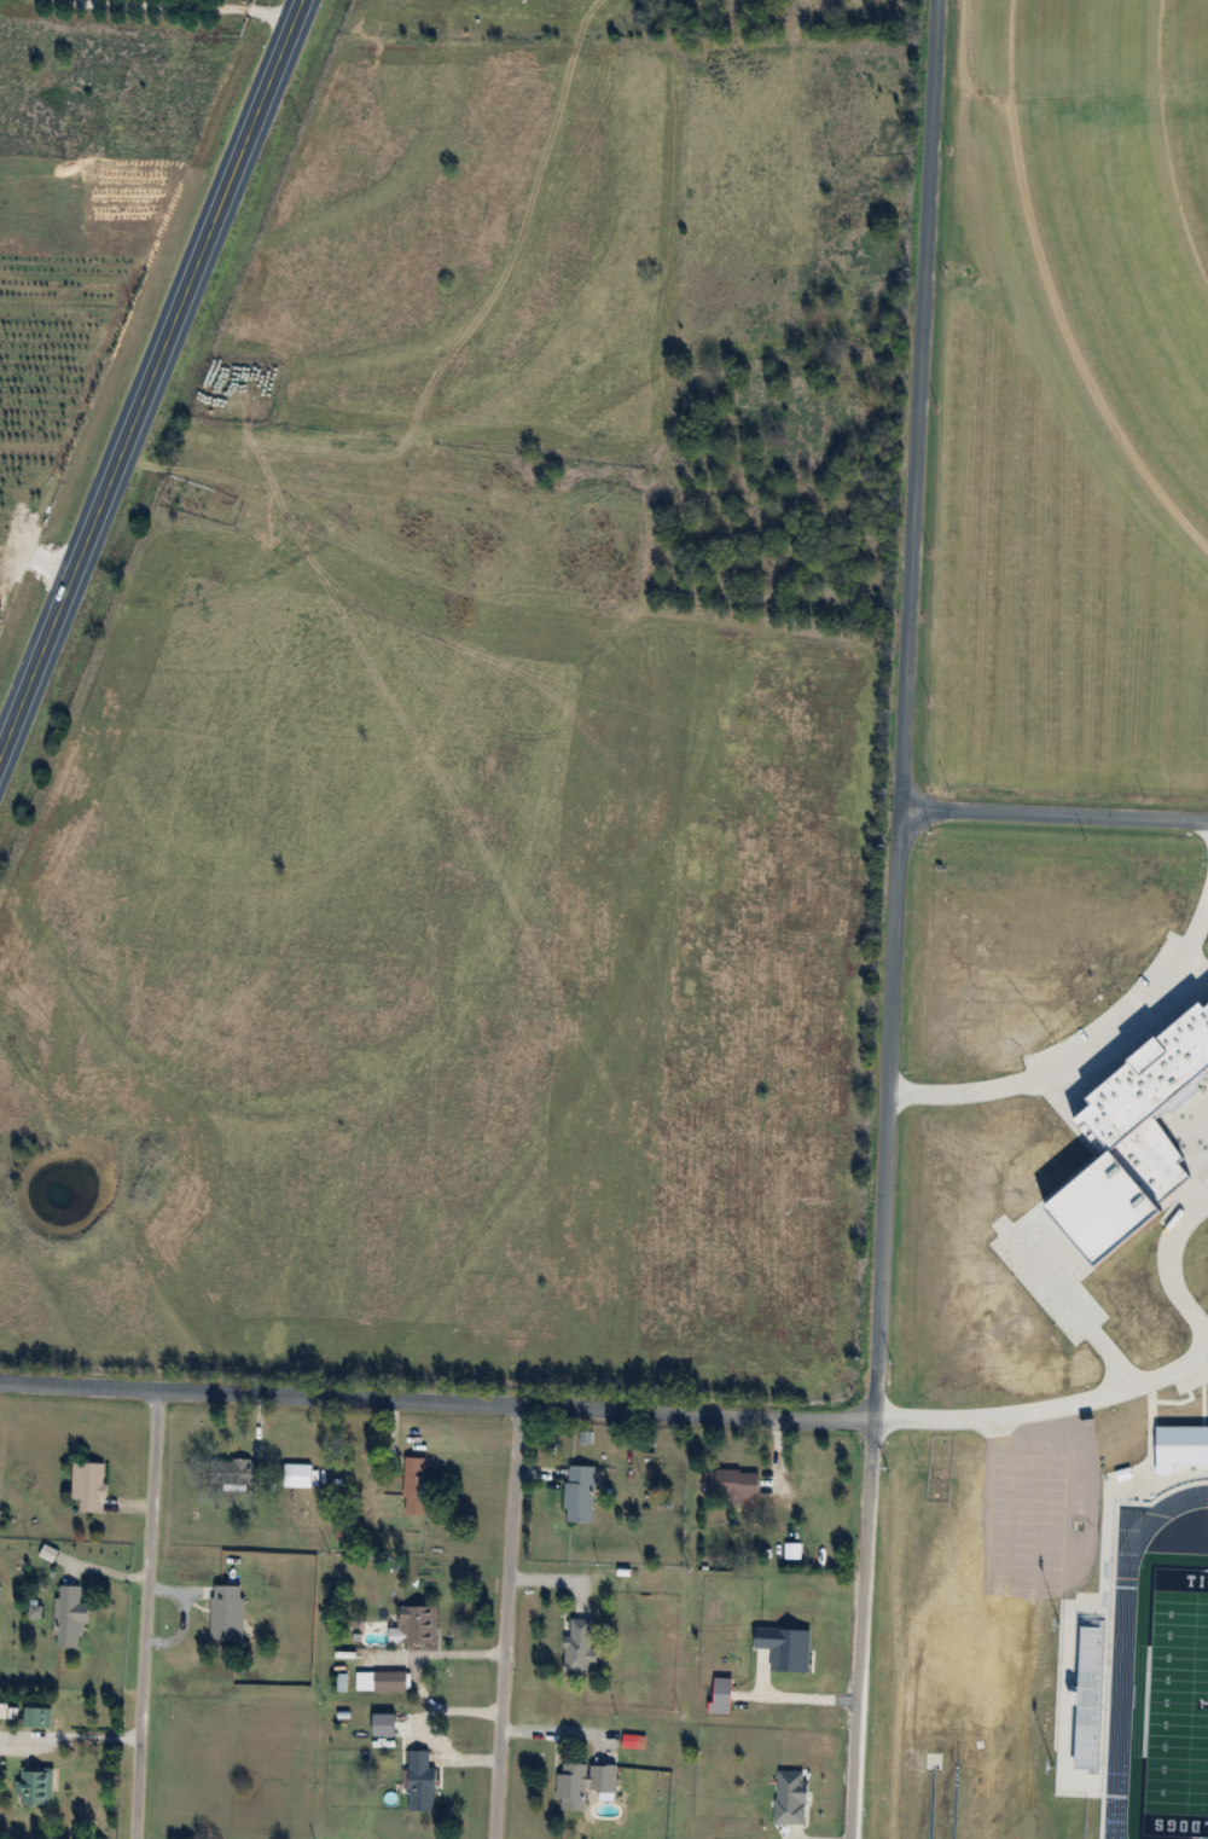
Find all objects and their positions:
road: (240, 2)
road: (155, 381)
road: (904, 706)
road: (1053, 816)
road: (1085, 1060)
road: (1172, 1260)
road: (1076, 1312)
road: (436, 1402)
road: (1044, 1405)
building: (245, 1472)
building: (297, 1475)
building: (733, 1484)
building: (89, 1486)
building: (418, 1486)
building: (581, 1493)
building: (0, 1520)
building: (228, 1612)
road: (145, 1614)
building: (71, 1615)
road: (507, 1623)
building: (417, 1624)
road: (863, 1625)
building: (581, 1644)
road: (449, 1653)
building: (384, 1680)
road: (797, 1701)
building: (2, 1710)
building: (37, 1716)
road: (557, 1731)
building: (634, 1740)
building: (606, 1777)
building: (423, 1781)
building: (37, 1785)
building: (574, 1786)

